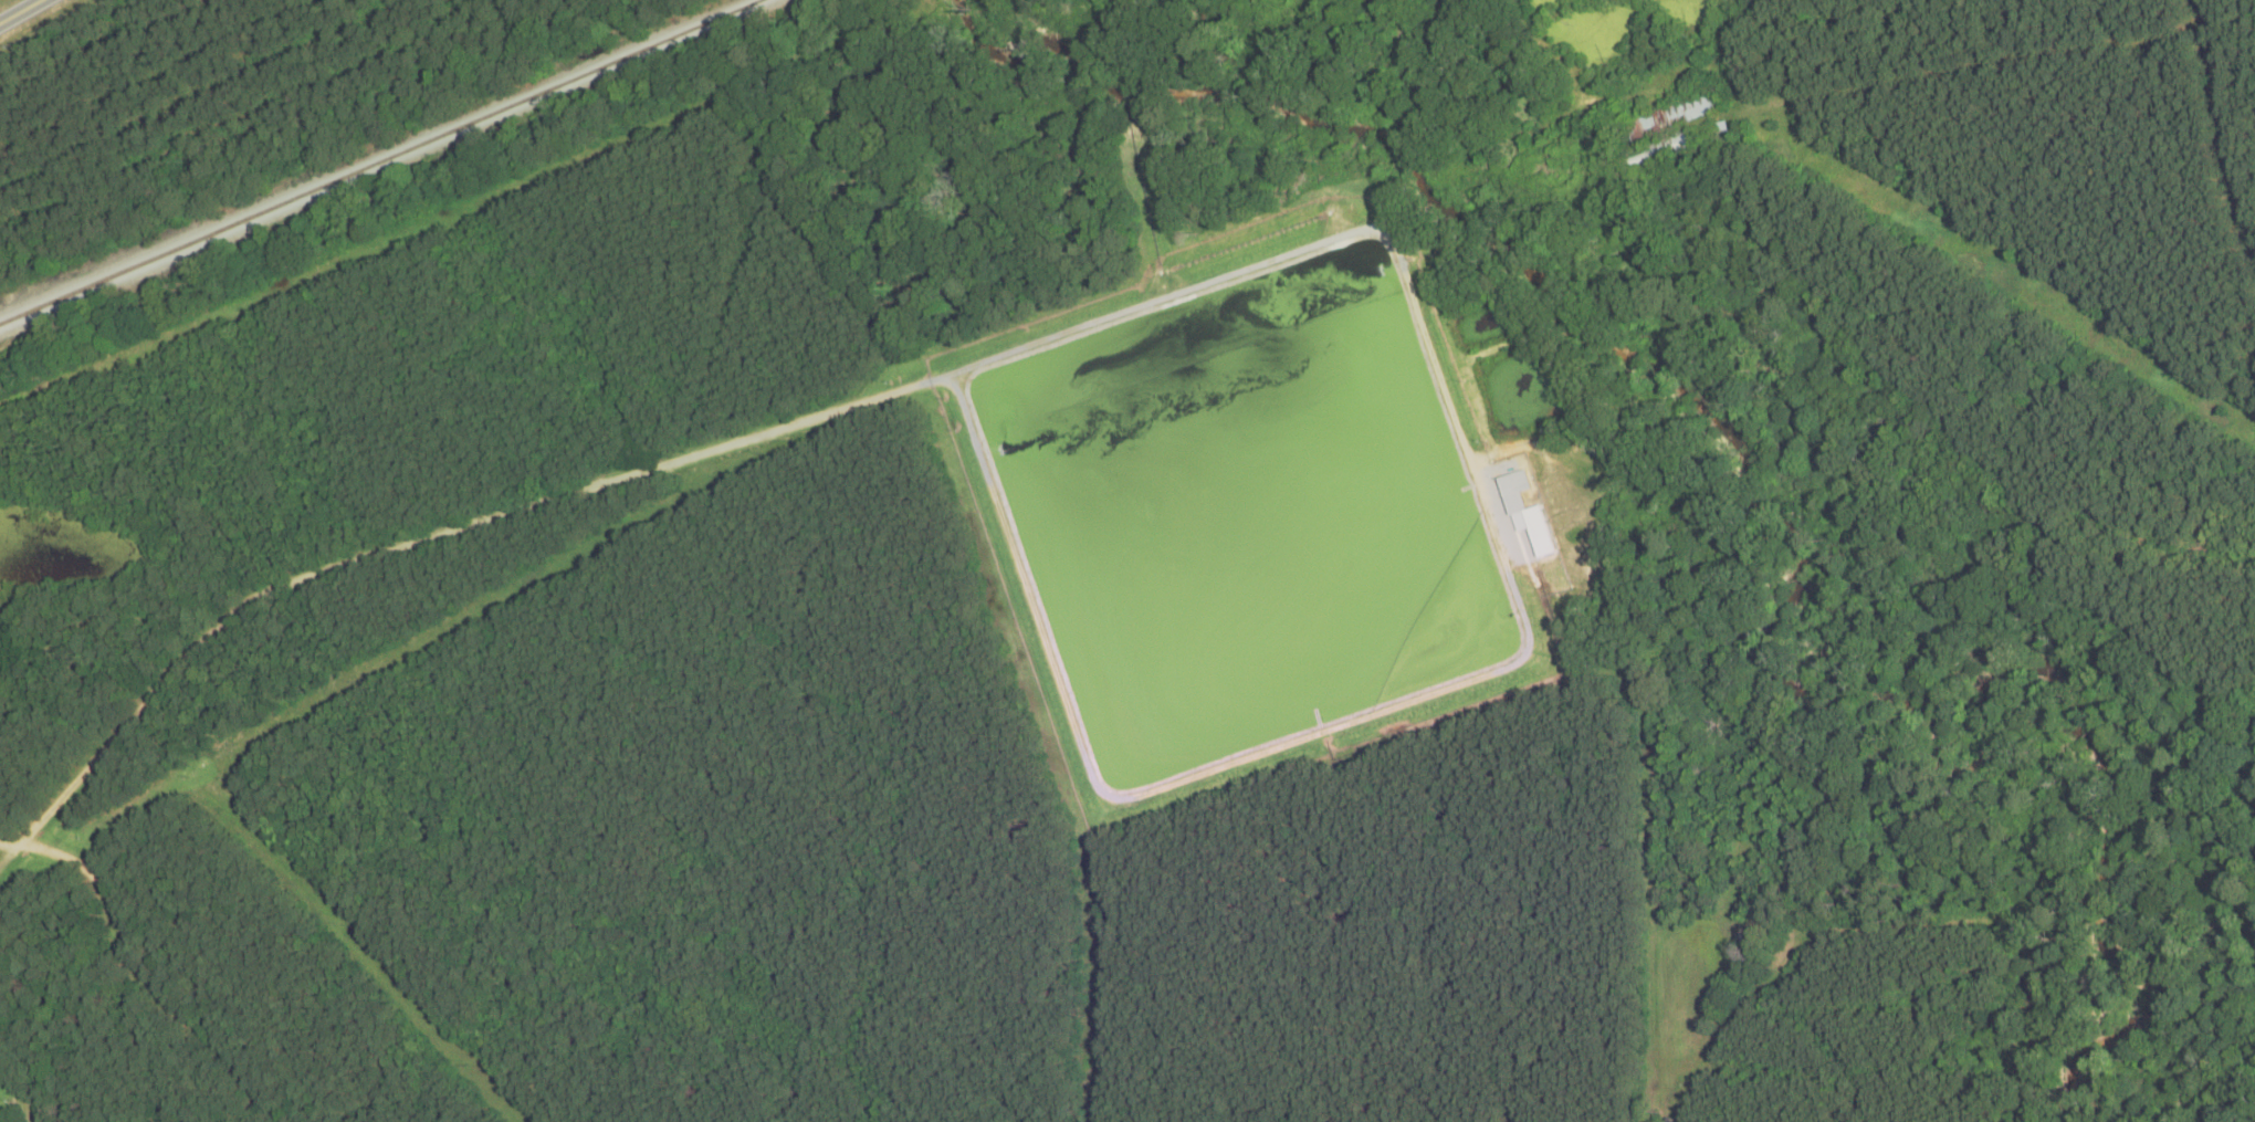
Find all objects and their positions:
road: (17, 9)
road: (1944, 71)
road: (2234, 91)
railway: (380, 161)
building: (1513, 491)
river: (1802, 573)

